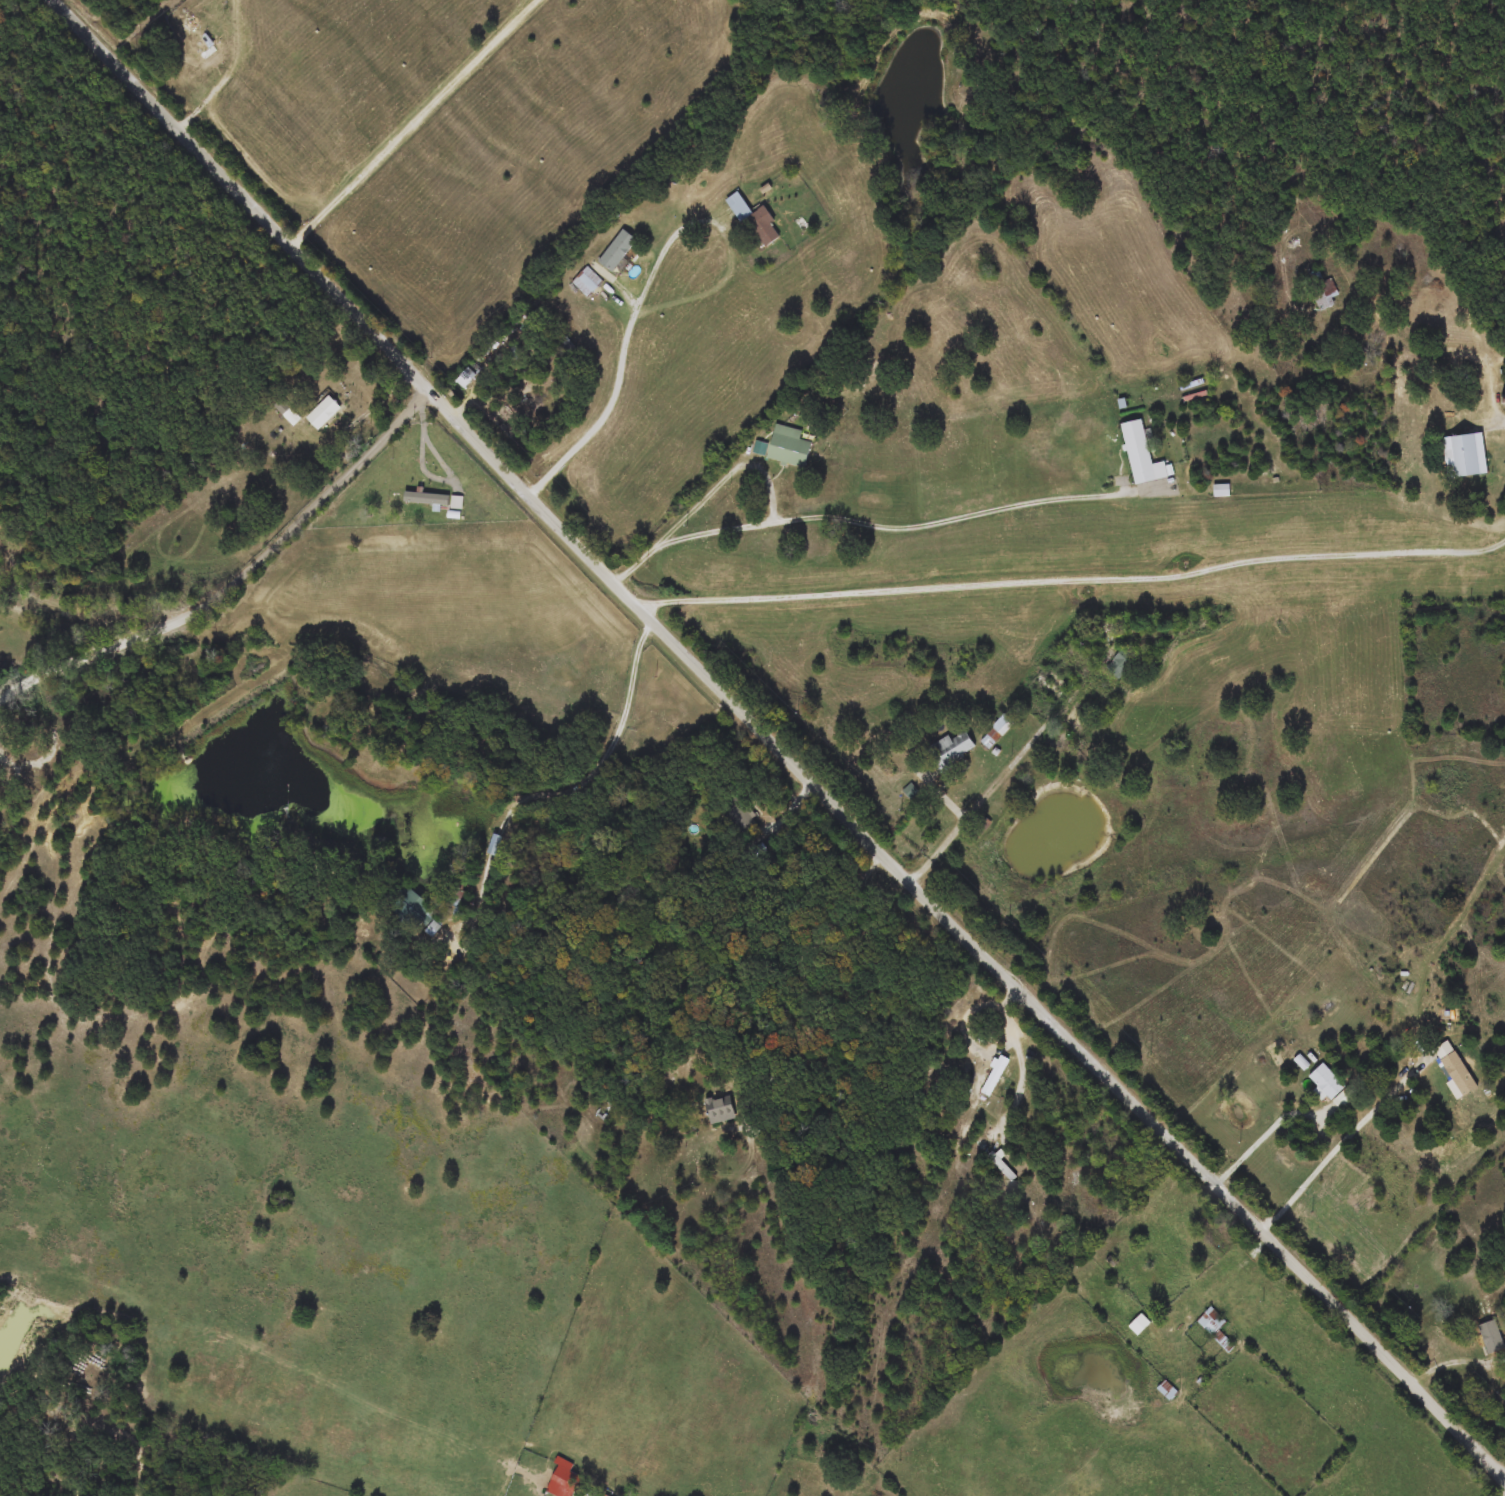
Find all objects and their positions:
road: (415, 123)
building: (756, 223)
road: (719, 228)
building: (618, 251)
building: (588, 282)
building: (1322, 290)
road: (1480, 331)
road: (1337, 334)
road: (1429, 348)
road: (1385, 377)
road: (367, 382)
building: (324, 413)
road: (604, 417)
building: (789, 447)
building: (1143, 455)
building: (1465, 455)
road: (729, 478)
road: (875, 525)
road: (1498, 546)
road: (237, 580)
road: (1073, 581)
road: (499, 622)
building: (1105, 632)
building: (1124, 661)
building: (572, 715)
road: (57, 728)
building: (1000, 730)
road: (775, 743)
building: (951, 751)
road: (14, 759)
road: (604, 765)
road: (1008, 774)
building: (2, 802)
building: (740, 815)
road: (804, 987)
building: (1454, 1070)
building: (995, 1077)
building: (1327, 1082)
building: (720, 1111)
road: (1266, 1138)
road: (1337, 1150)
road: (1241, 1266)
building: (1139, 1325)
building: (1215, 1328)
building: (1491, 1337)
building: (1168, 1392)
road: (1219, 1474)
building: (565, 1477)

